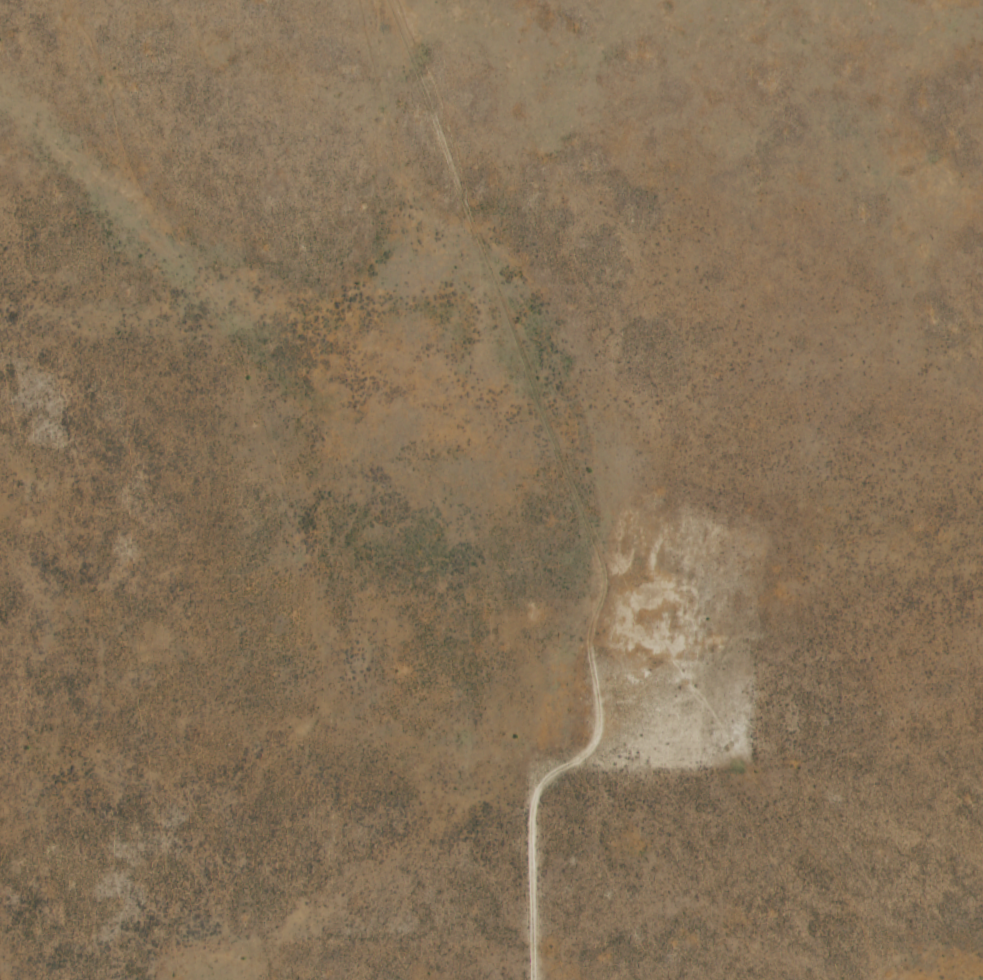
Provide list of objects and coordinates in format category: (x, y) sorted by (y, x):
road: (560, 843)

